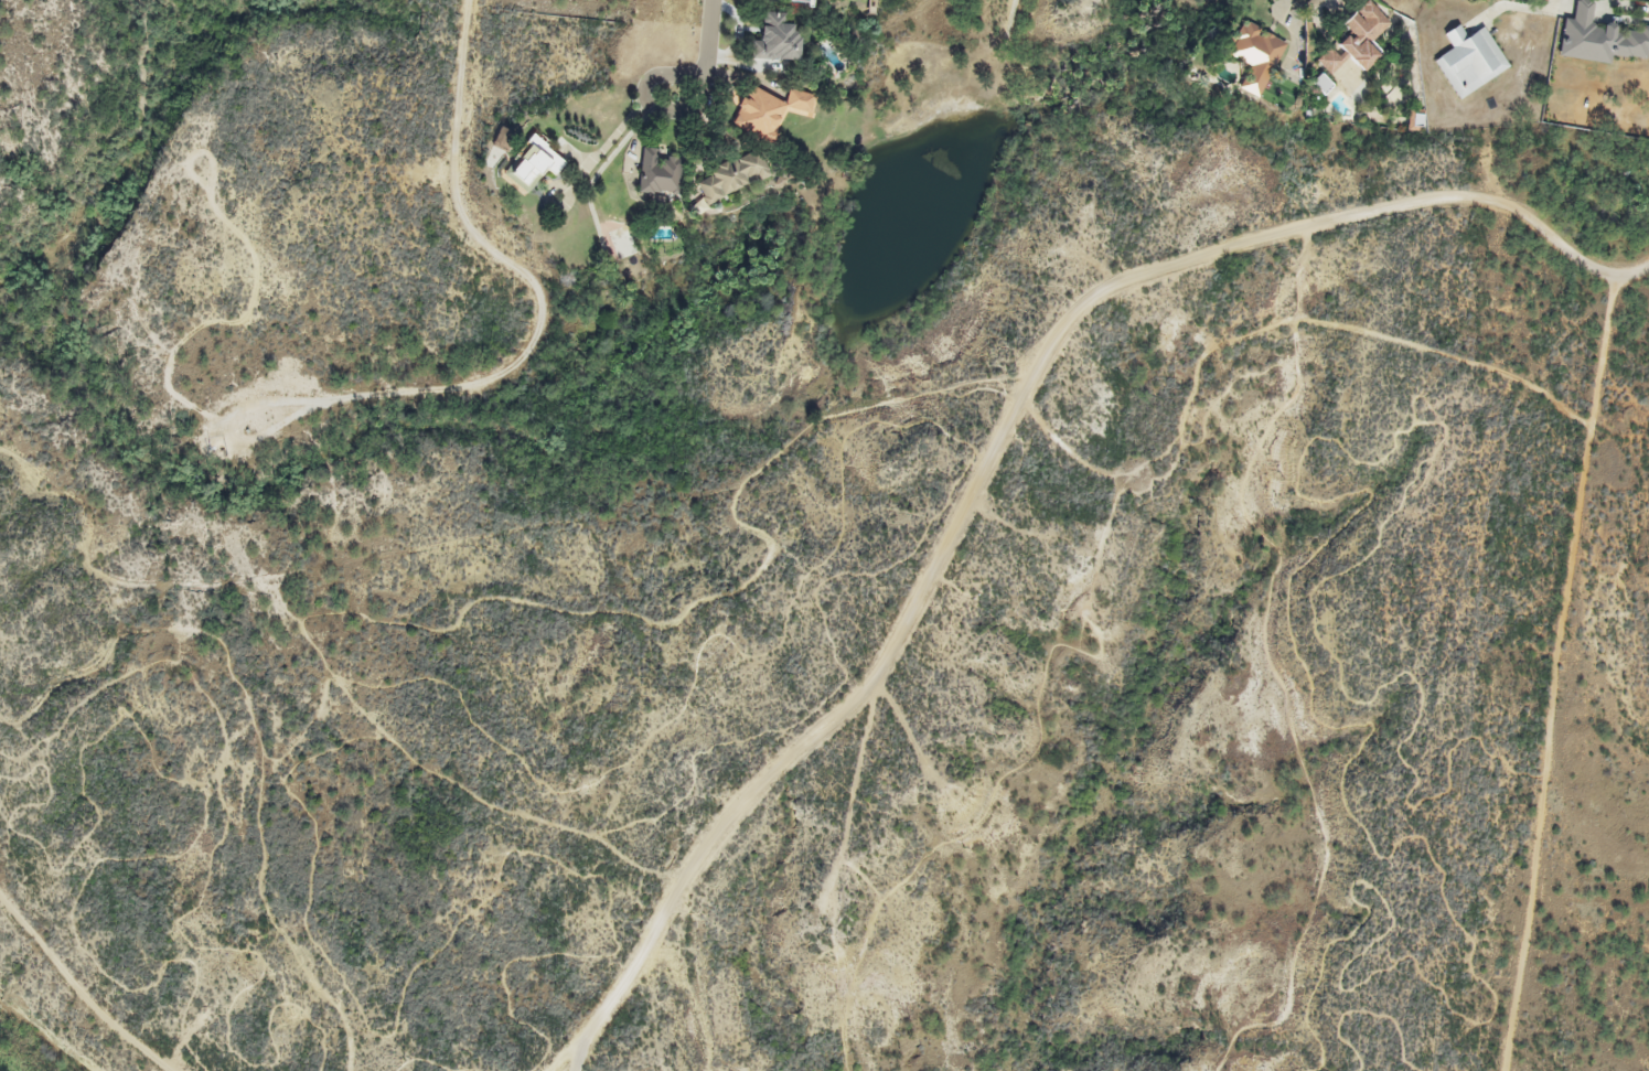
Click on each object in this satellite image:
building: (803, 0)
building: (1543, 0)
road: (709, 32)
building: (775, 38)
building: (1598, 38)
building: (1356, 39)
building: (1254, 55)
building: (1469, 60)
building: (1321, 83)
building: (769, 111)
building: (658, 172)
building: (732, 176)

